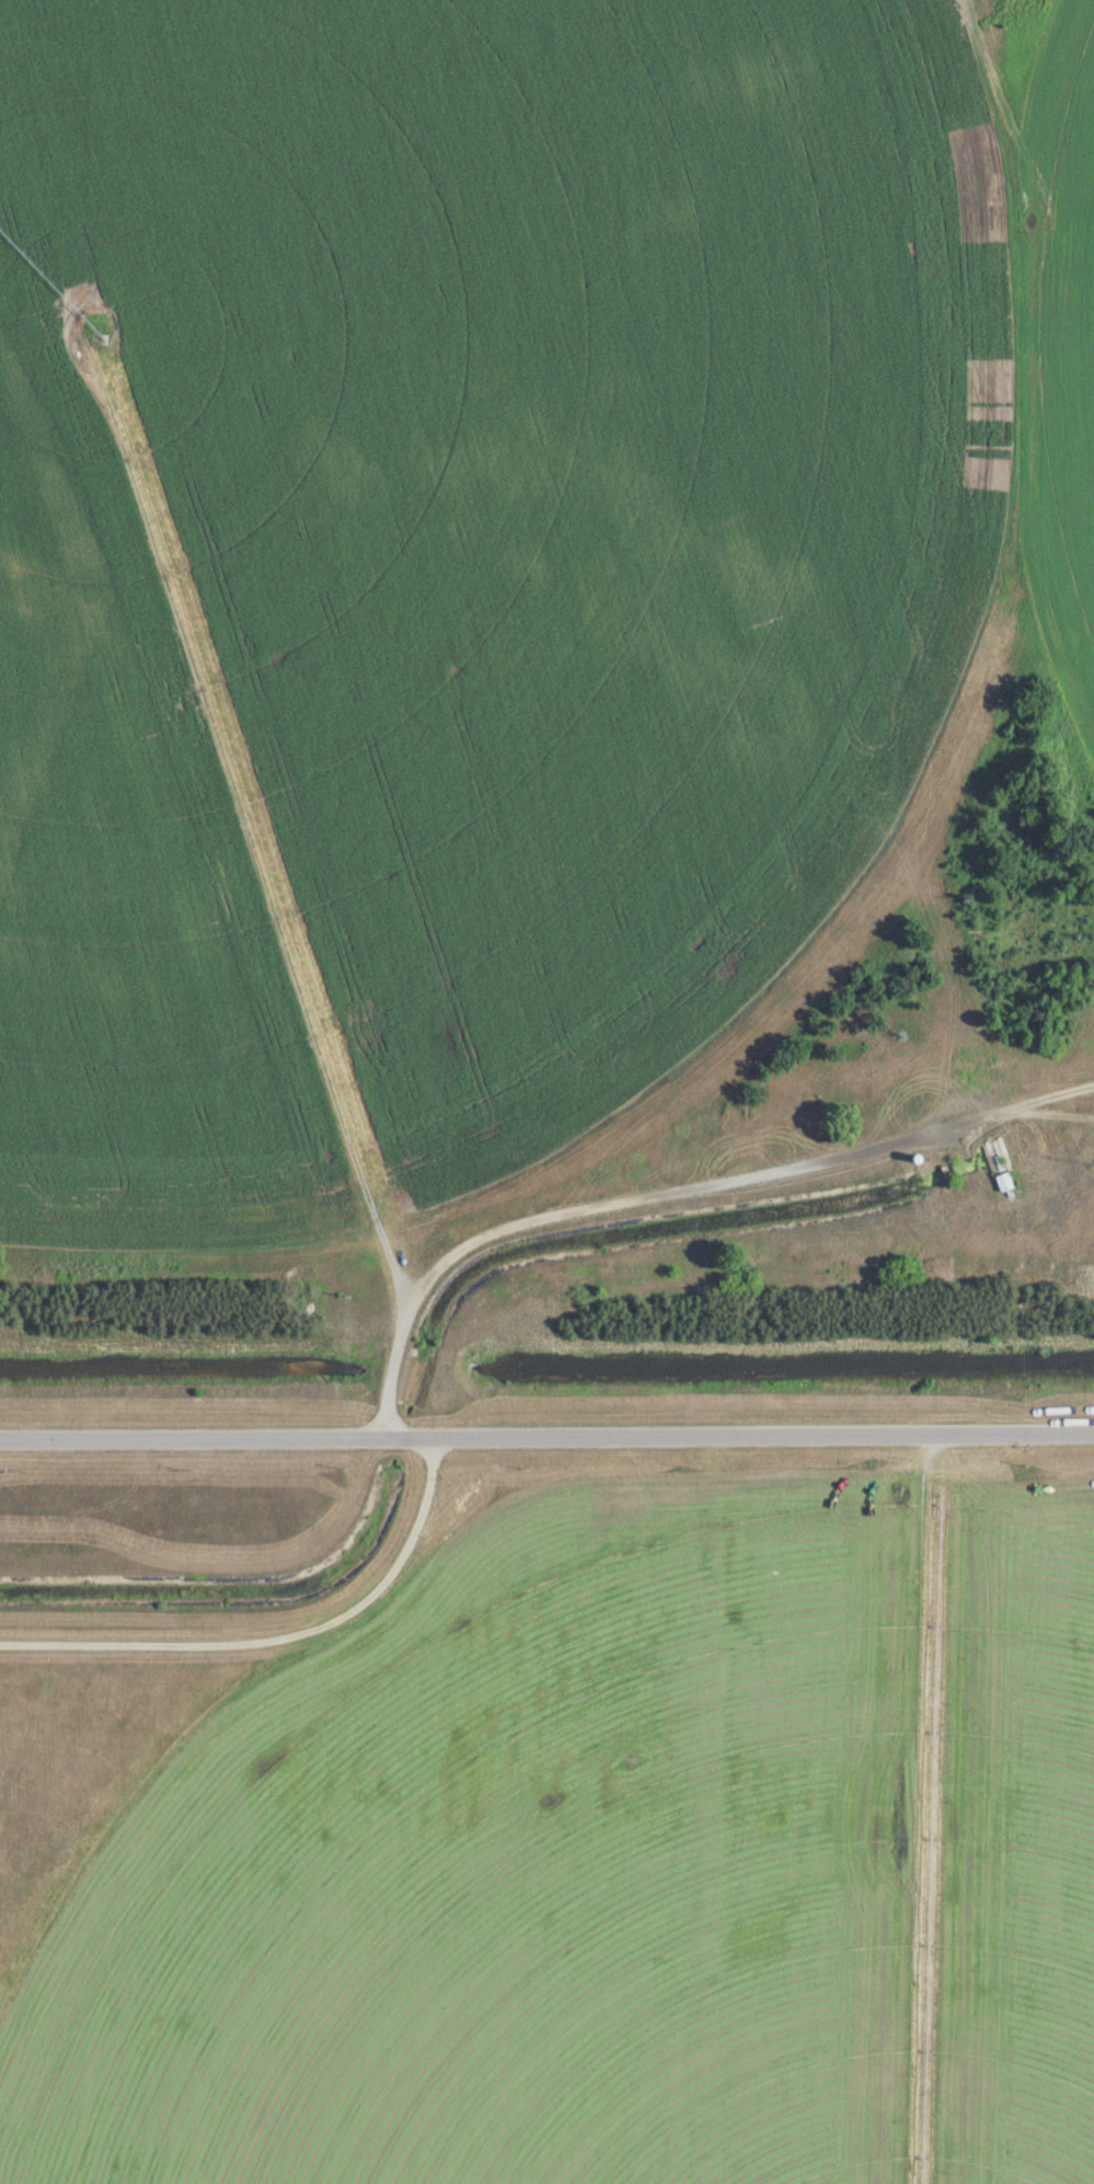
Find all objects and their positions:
wastewater plant: (546, 1092)
building: (1003, 1180)
road: (579, 1209)
road: (546, 1433)
road: (281, 1634)

